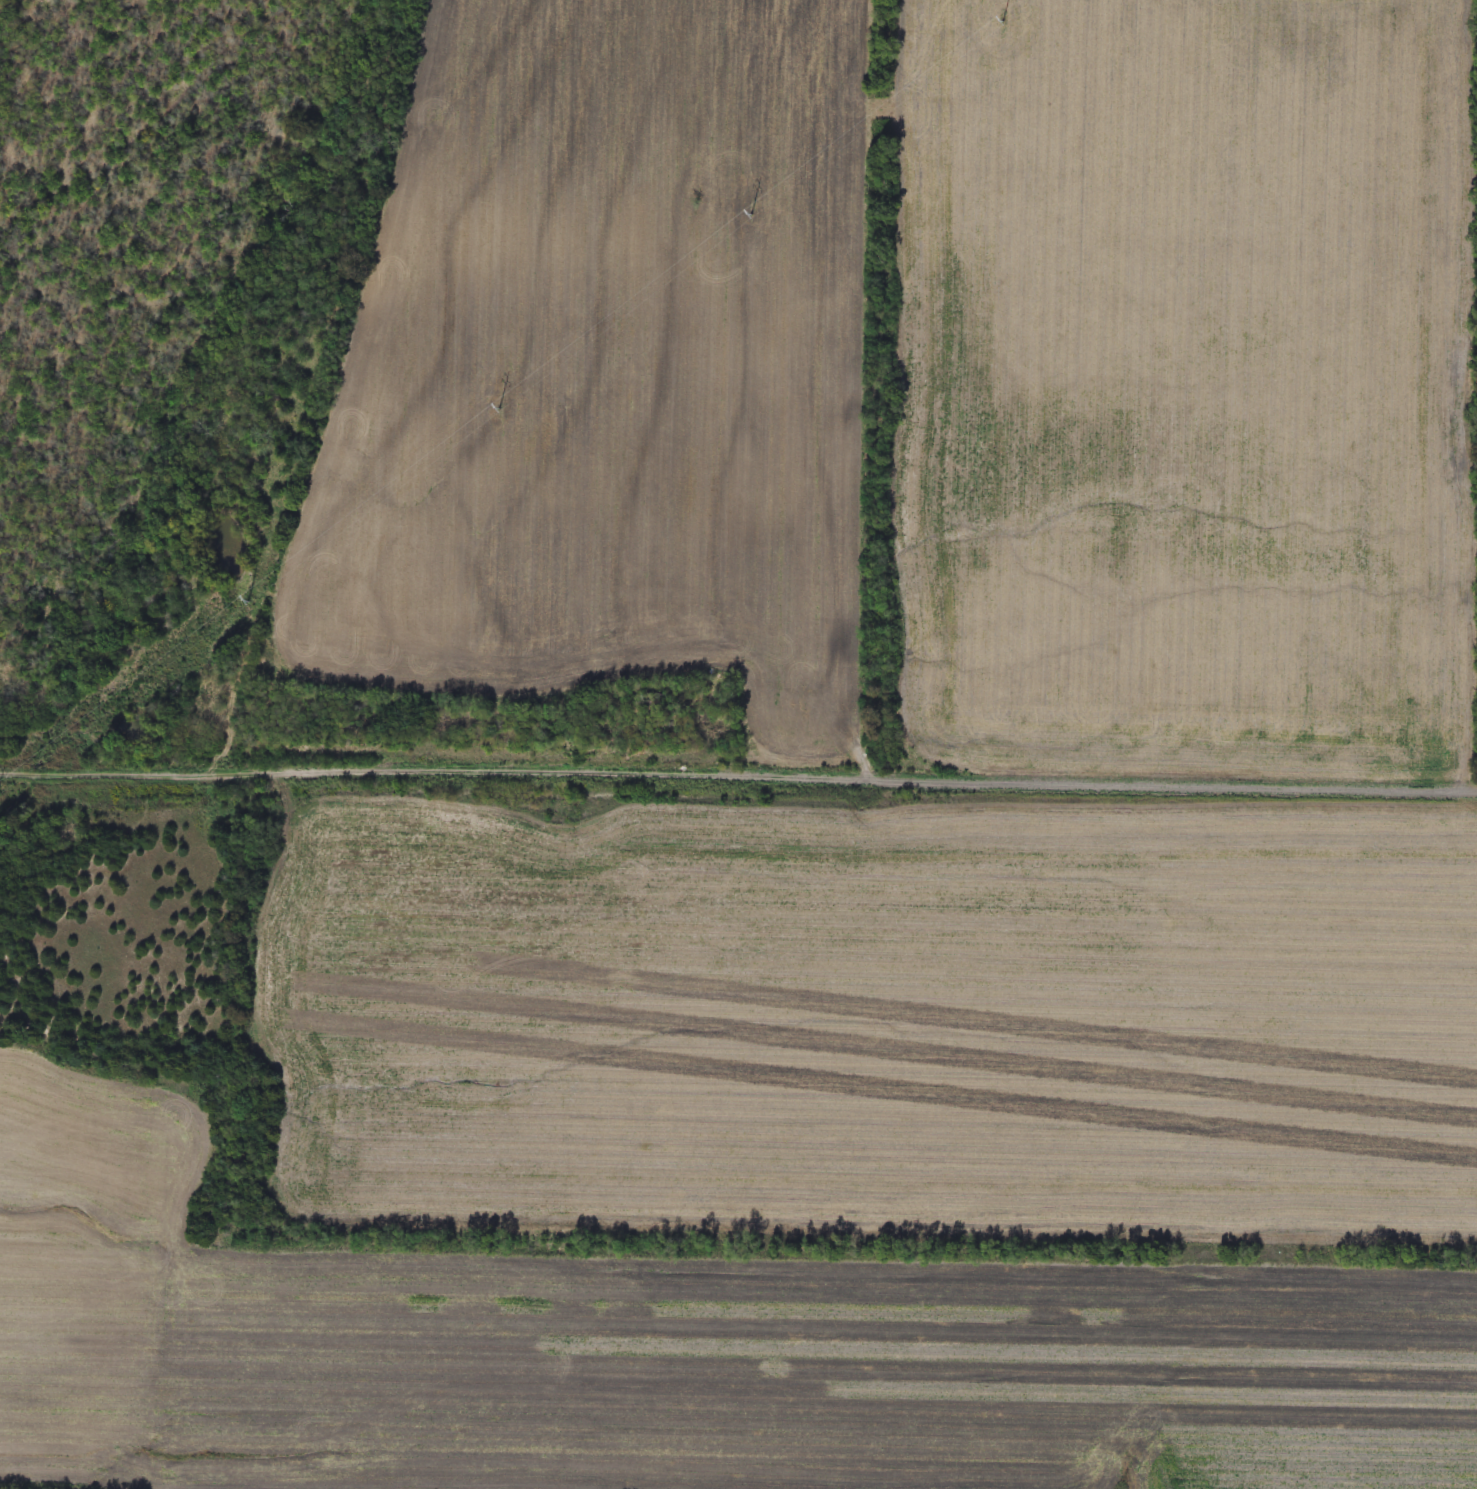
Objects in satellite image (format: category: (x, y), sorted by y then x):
power tower: (1004, 21)
power tower: (758, 217)
power tower: (506, 412)
power tower: (256, 605)
road: (732, 766)
power tower: (19, 795)

